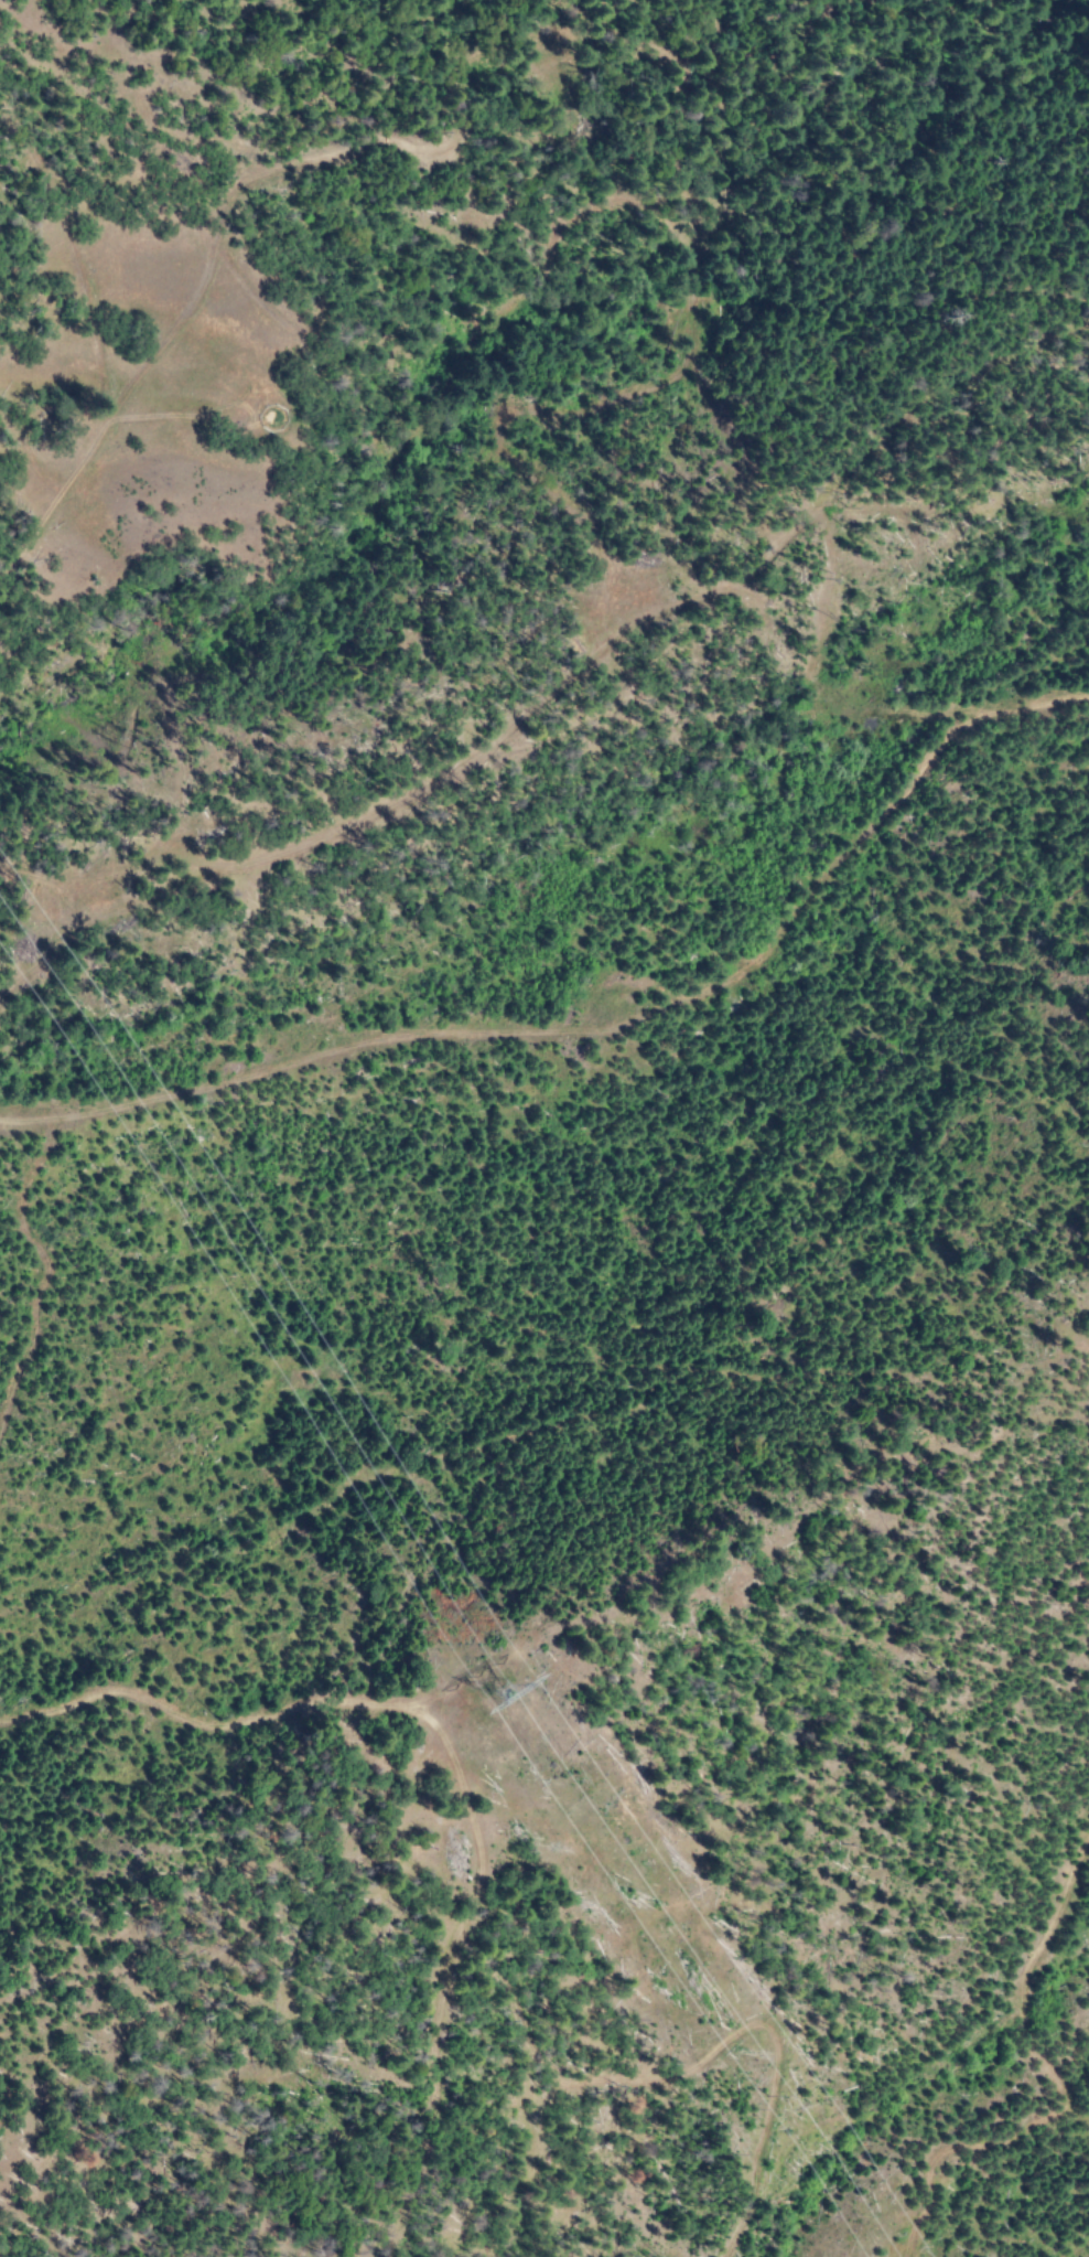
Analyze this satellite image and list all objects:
road: (508, 414)
power tower: (499, 1691)

